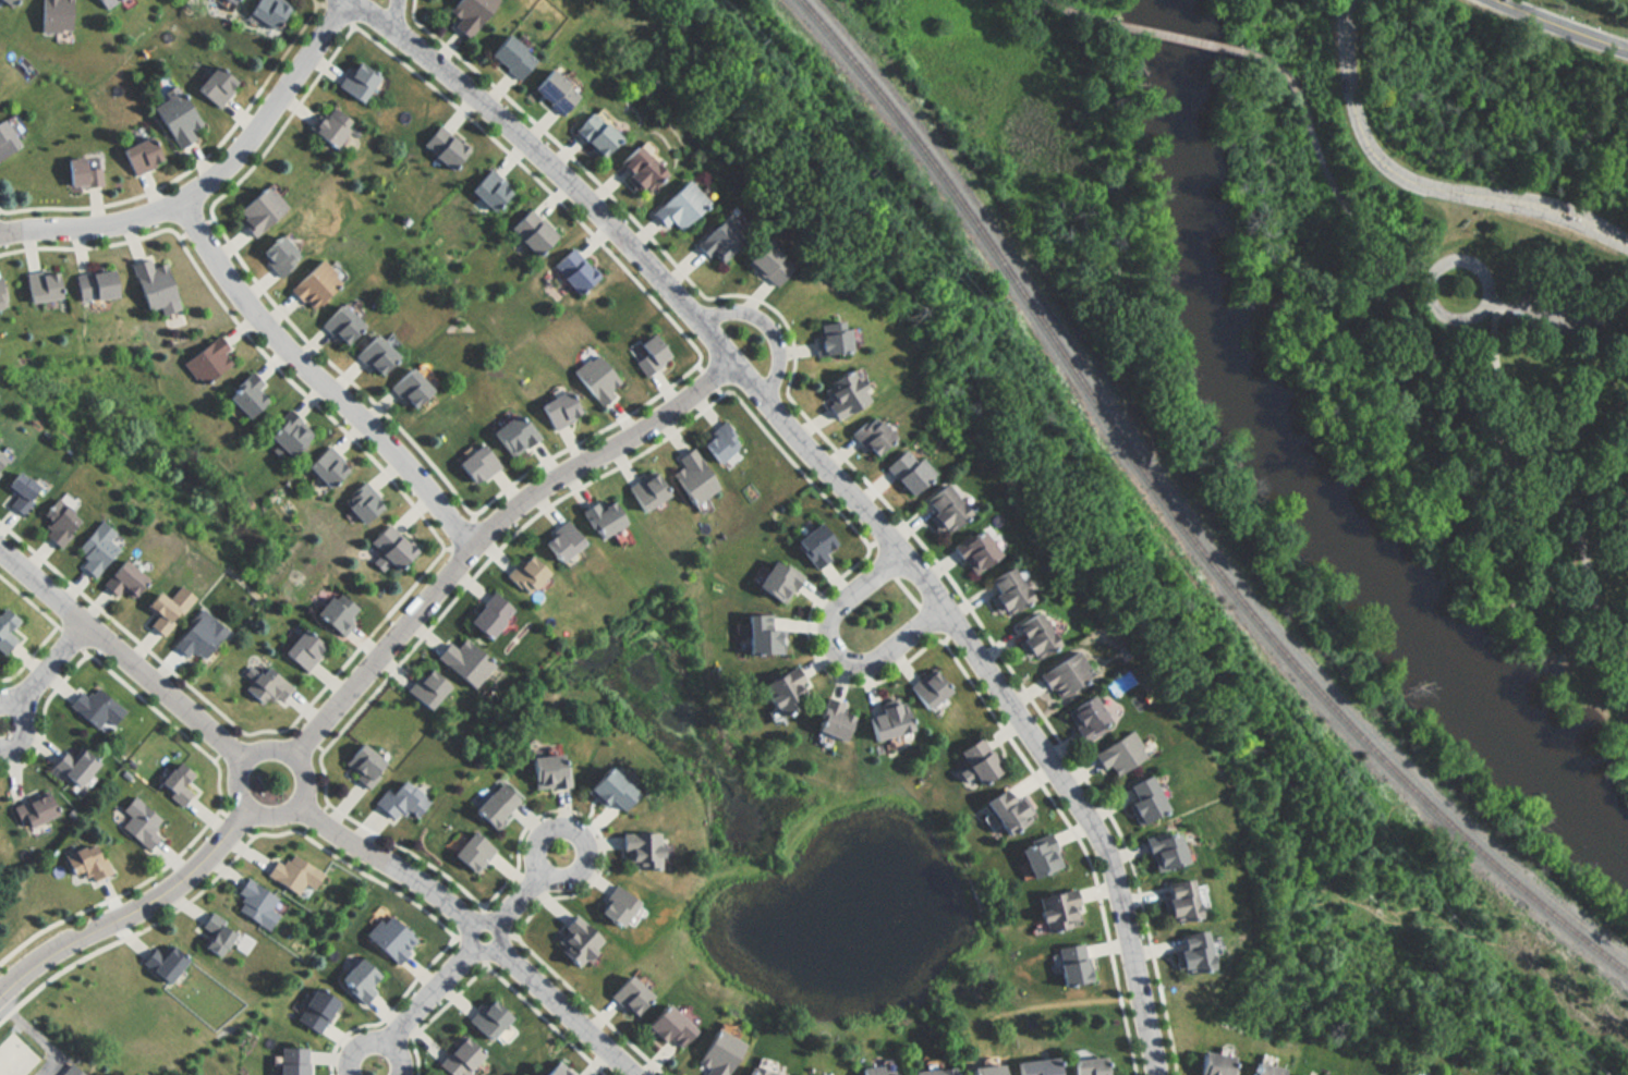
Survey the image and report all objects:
building: (229, 1)
building: (102, 2)
road: (313, 2)
building: (5, 3)
building: (266, 11)
road: (337, 13)
road: (391, 13)
building: (465, 14)
road: (1079, 14)
building: (51, 15)
road: (1560, 27)
road: (1177, 38)
building: (507, 57)
road: (1280, 72)
building: (354, 81)
building: (212, 85)
building: (550, 91)
building: (173, 119)
road: (284, 122)
building: (327, 125)
road: (1358, 127)
building: (590, 134)
building: (5, 141)
building: (440, 147)
building: (138, 154)
road: (197, 163)
building: (633, 169)
building: (81, 171)
road: (215, 179)
road: (535, 182)
building: (486, 190)
road: (1548, 203)
building: (675, 206)
toll booth: (1568, 208)
building: (256, 210)
toll booth: (1566, 215)
road: (186, 216)
road: (1546, 216)
toll booth: (1563, 221)
building: (527, 232)
building: (716, 240)
road: (86, 247)
building: (276, 255)
building: (764, 262)
park: (1353, 270)
building: (570, 271)
road: (1422, 280)
building: (39, 284)
building: (93, 284)
building: (151, 284)
building: (311, 285)
building: (2, 297)
road: (1562, 311)
parking lot: (1567, 311)
building: (337, 325)
road: (764, 329)
building: (828, 339)
building: (644, 353)
building: (372, 356)
building: (206, 362)
road: (330, 364)
road: (715, 371)
building: (593, 380)
road: (320, 381)
road: (1448, 384)
building: (405, 389)
road: (301, 392)
building: (843, 394)
building: (243, 399)
building: (556, 410)
building: (287, 435)
building: (510, 435)
building: (871, 437)
road: (582, 438)
building: (718, 443)
road: (1543, 443)
building: (1, 463)
building: (473, 464)
road: (797, 465)
building: (325, 468)
river: (1292, 468)
building: (906, 472)
road: (856, 473)
building: (690, 478)
road: (835, 481)
building: (643, 491)
building: (17, 492)
building: (361, 503)
building: (943, 508)
railway: (1179, 518)
building: (597, 520)
building: (54, 522)
road: (490, 533)
road: (462, 536)
building: (557, 542)
building: (390, 546)
road: (499, 546)
building: (814, 546)
building: (95, 548)
building: (974, 550)
road: (887, 561)
building: (521, 574)
building: (121, 579)
building: (778, 581)
road: (910, 593)
building: (1006, 593)
building: (333, 612)
building: (159, 613)
building: (484, 616)
road: (935, 621)
road: (56, 627)
road: (120, 627)
building: (9, 634)
building: (760, 634)
building: (198, 636)
building: (1034, 636)
road: (367, 637)
road: (73, 639)
building: (302, 650)
road: (833, 657)
road: (120, 659)
road: (814, 661)
building: (460, 662)
road: (51, 668)
building: (1066, 675)
building: (268, 686)
building: (422, 688)
building: (927, 688)
building: (781, 693)
building: (94, 708)
road: (42, 714)
building: (1086, 719)
building: (828, 721)
building: (885, 721)
road: (26, 725)
road: (270, 731)
road: (238, 733)
road: (306, 738)
road: (227, 746)
road: (274, 747)
building: (1118, 755)
road: (216, 758)
building: (977, 760)
building: (75, 766)
building: (360, 766)
building: (544, 772)
road: (323, 777)
building: (174, 784)
building: (605, 791)
building: (397, 799)
building: (1142, 801)
building: (491, 805)
building: (33, 809)
building: (1003, 811)
road: (313, 819)
road: (585, 820)
road: (235, 823)
building: (137, 824)
road: (199, 832)
road: (302, 832)
road: (1074, 839)
road: (402, 850)
building: (1161, 851)
building: (636, 852)
building: (470, 853)
building: (1035, 856)
building: (85, 863)
road: (385, 864)
road: (226, 868)
building: (291, 875)
road: (549, 882)
road: (515, 900)
building: (1174, 902)
building: (256, 905)
park: (24, 906)
building: (613, 909)
road: (130, 911)
building: (1054, 911)
road: (485, 920)
road: (495, 921)
building: (219, 937)
building: (388, 940)
building: (571, 941)
road: (467, 951)
building: (1186, 954)
building: (163, 963)
building: (1069, 965)
building: (359, 981)
building: (625, 997)
road: (430, 998)
road: (583, 1005)
building: (321, 1011)
road: (389, 1011)
road: (567, 1012)
road: (434, 1014)
building: (484, 1018)
road: (542, 1021)
park: (101, 1026)
building: (664, 1028)
road: (373, 1041)
building: (714, 1054)
park: (14, 1056)
building: (457, 1058)
building: (292, 1062)
building: (1211, 1065)
building: (1034, 1067)
building: (1085, 1067)
building: (552, 1070)
building: (1259, 1070)
building: (874, 1071)
building: (983, 1071)
building: (69, 1072)
building: (754, 1072)
building: (931, 1072)
building: (1297, 1074)

